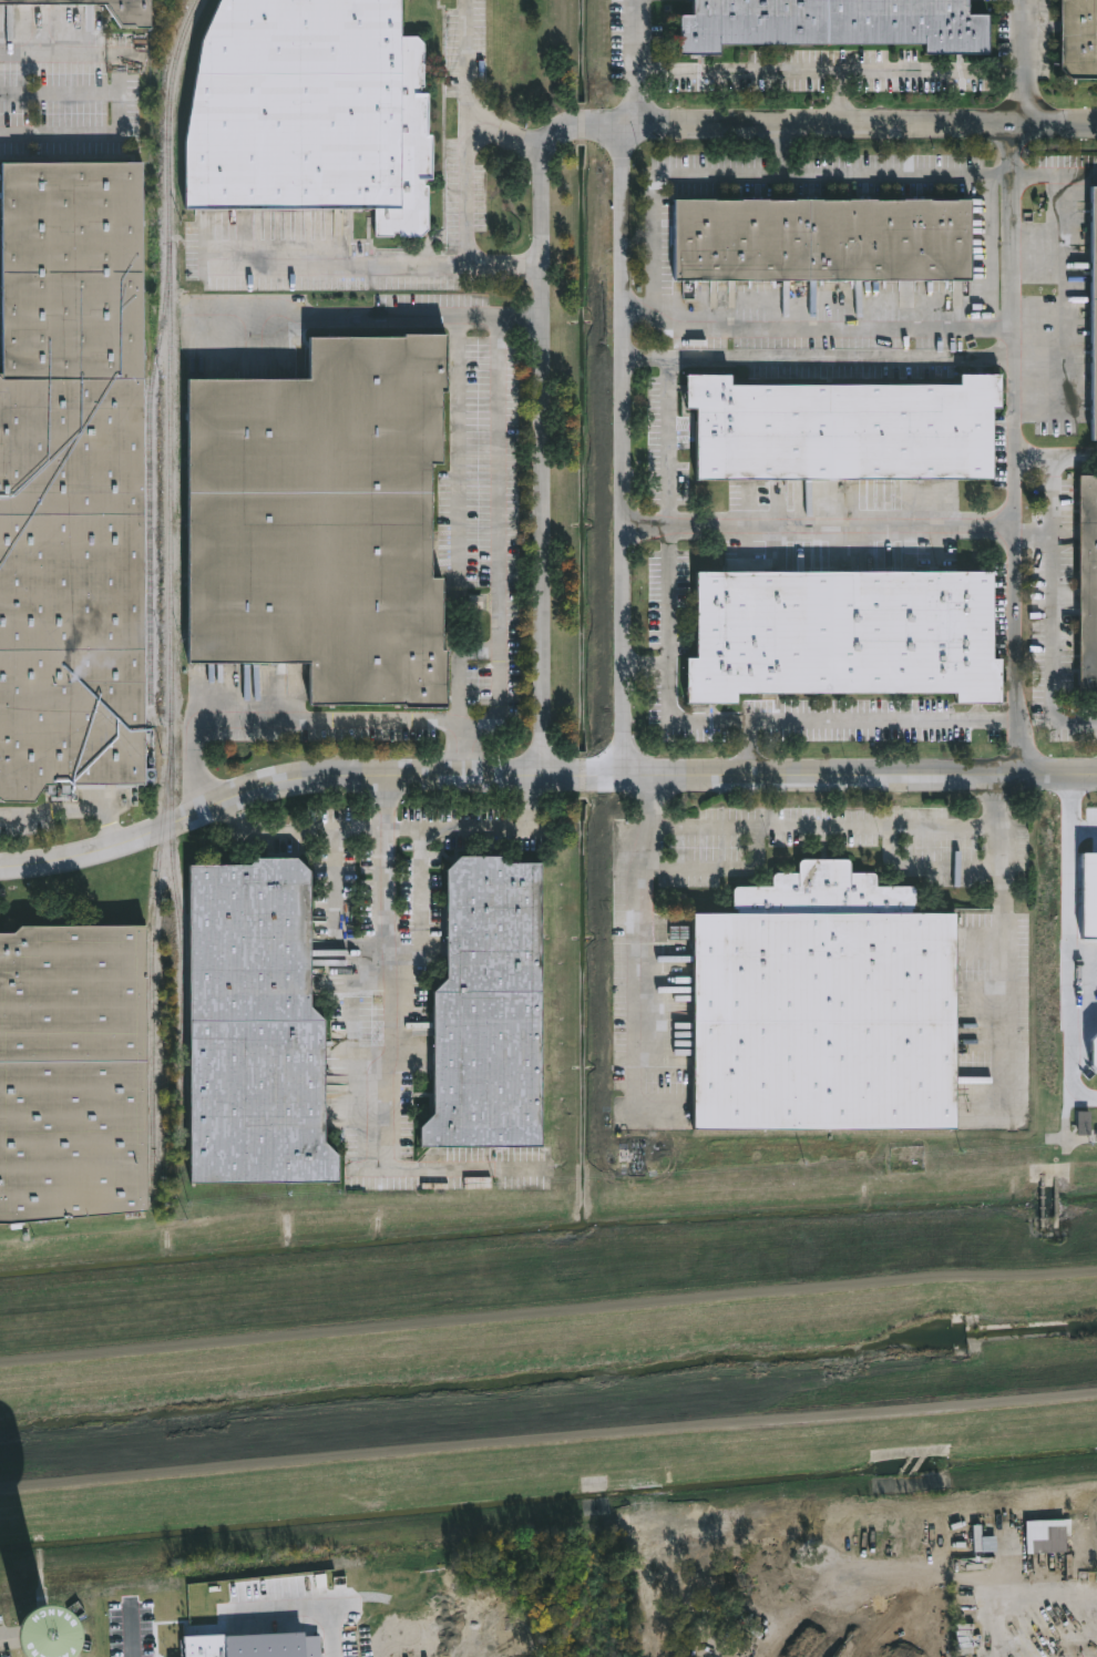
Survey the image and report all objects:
building: (112, 9)
building: (827, 23)
road: (1019, 35)
building: (1076, 39)
road: (64, 50)
road: (633, 62)
road: (851, 72)
road: (838, 96)
road: (121, 112)
building: (315, 112)
road: (842, 122)
road: (467, 131)
road: (509, 133)
road: (780, 147)
road: (1054, 174)
building: (816, 241)
road: (656, 244)
road: (375, 265)
road: (639, 304)
building: (1095, 317)
road: (372, 318)
road: (819, 359)
building: (837, 431)
road: (543, 437)
road: (625, 441)
road: (669, 442)
road: (1013, 448)
road: (1055, 456)
building: (74, 481)
railway: (151, 483)
building: (327, 522)
road: (820, 526)
road: (1032, 530)
road: (496, 554)
building: (1086, 585)
railway: (171, 601)
road: (1050, 606)
building: (838, 635)
road: (647, 663)
road: (290, 719)
road: (747, 719)
road: (746, 748)
road: (541, 776)
road: (992, 801)
road: (70, 812)
road: (392, 827)
road: (965, 827)
road: (1086, 835)
road: (923, 868)
road: (693, 870)
road: (421, 900)
road: (335, 911)
road: (633, 941)
road: (1076, 941)
railway: (182, 965)
building: (818, 1008)
building: (493, 1011)
road: (386, 1016)
building: (258, 1030)
building: (74, 1074)
building: (1081, 1127)
road: (131, 1632)
building: (85, 1637)
water tower: (35, 1638)
water tower: (37, 1646)

